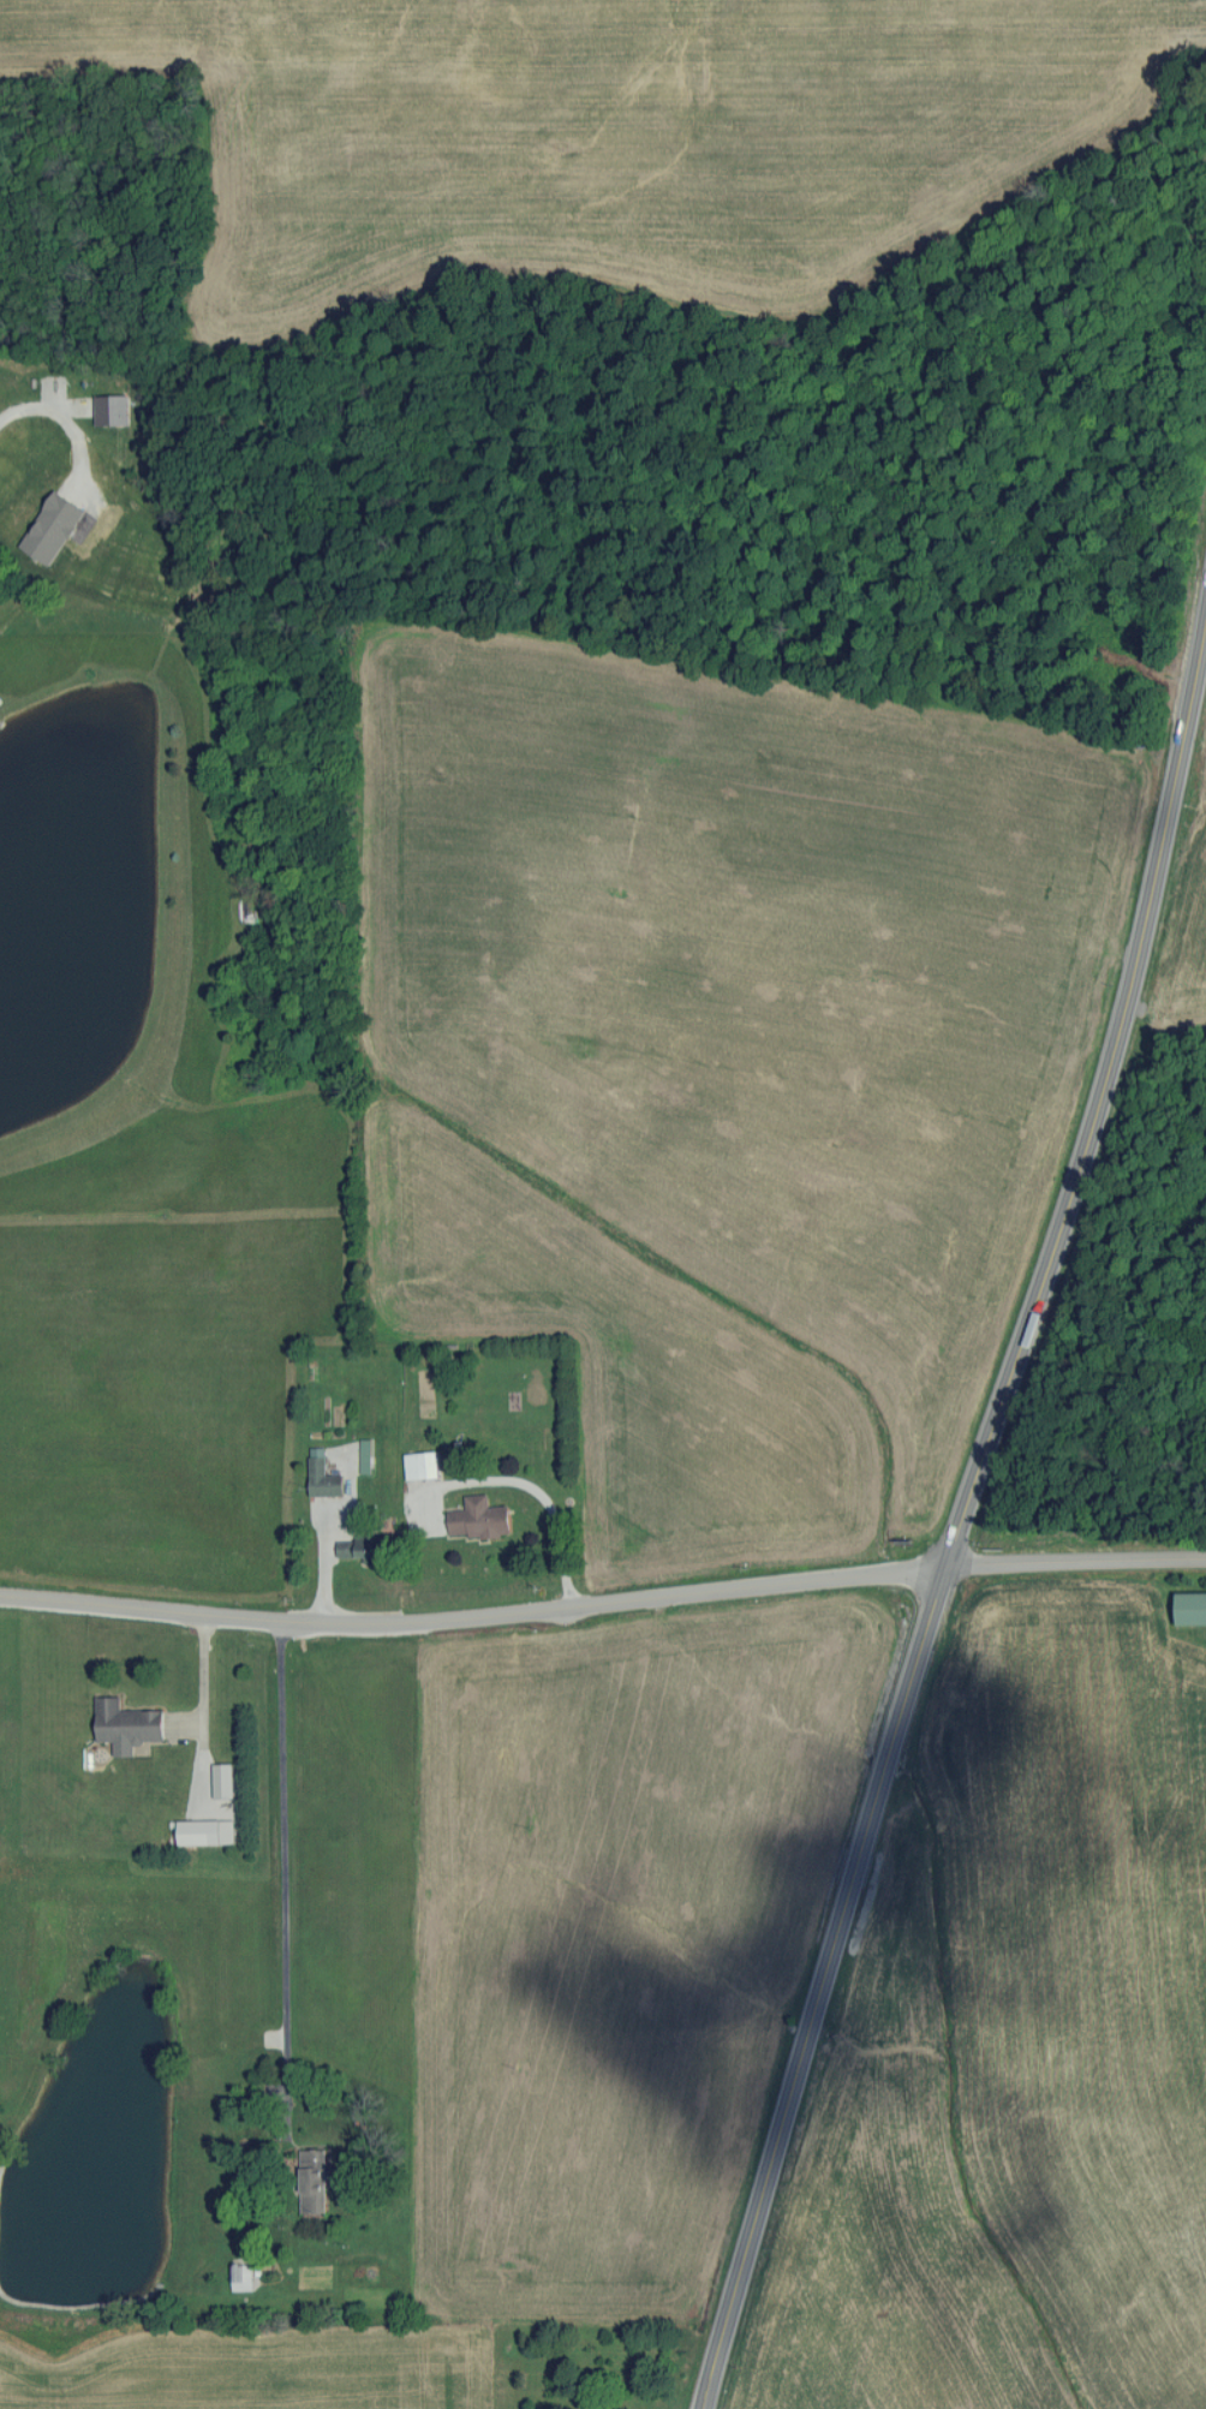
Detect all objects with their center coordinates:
road: (50, 411)
building: (50, 547)
building: (431, 1465)
building: (324, 1475)
road: (525, 1486)
road: (961, 1515)
building: (482, 1519)
road: (328, 1530)
building: (346, 1548)
road: (1076, 1561)
building: (1192, 1608)
road: (473, 1616)
road: (204, 1706)
building: (129, 1723)
building: (202, 1833)
road: (285, 1859)
building: (314, 2182)
building: (243, 2277)

